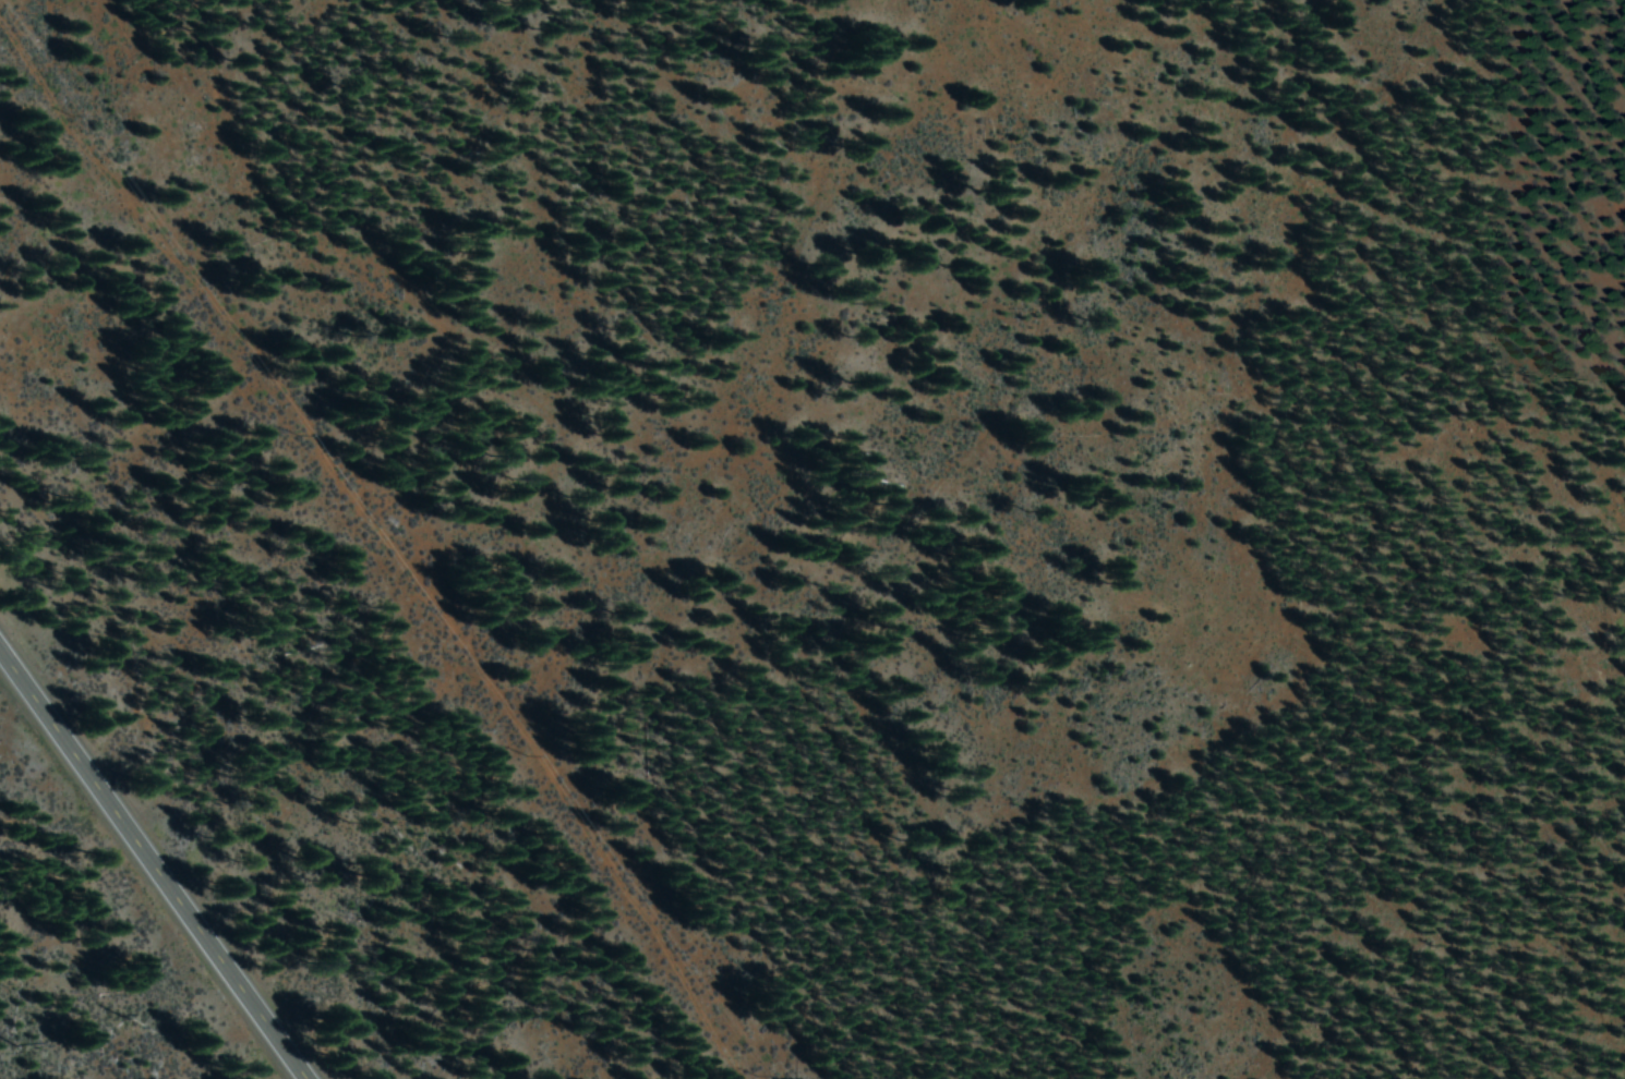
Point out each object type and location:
road: (156, 859)

